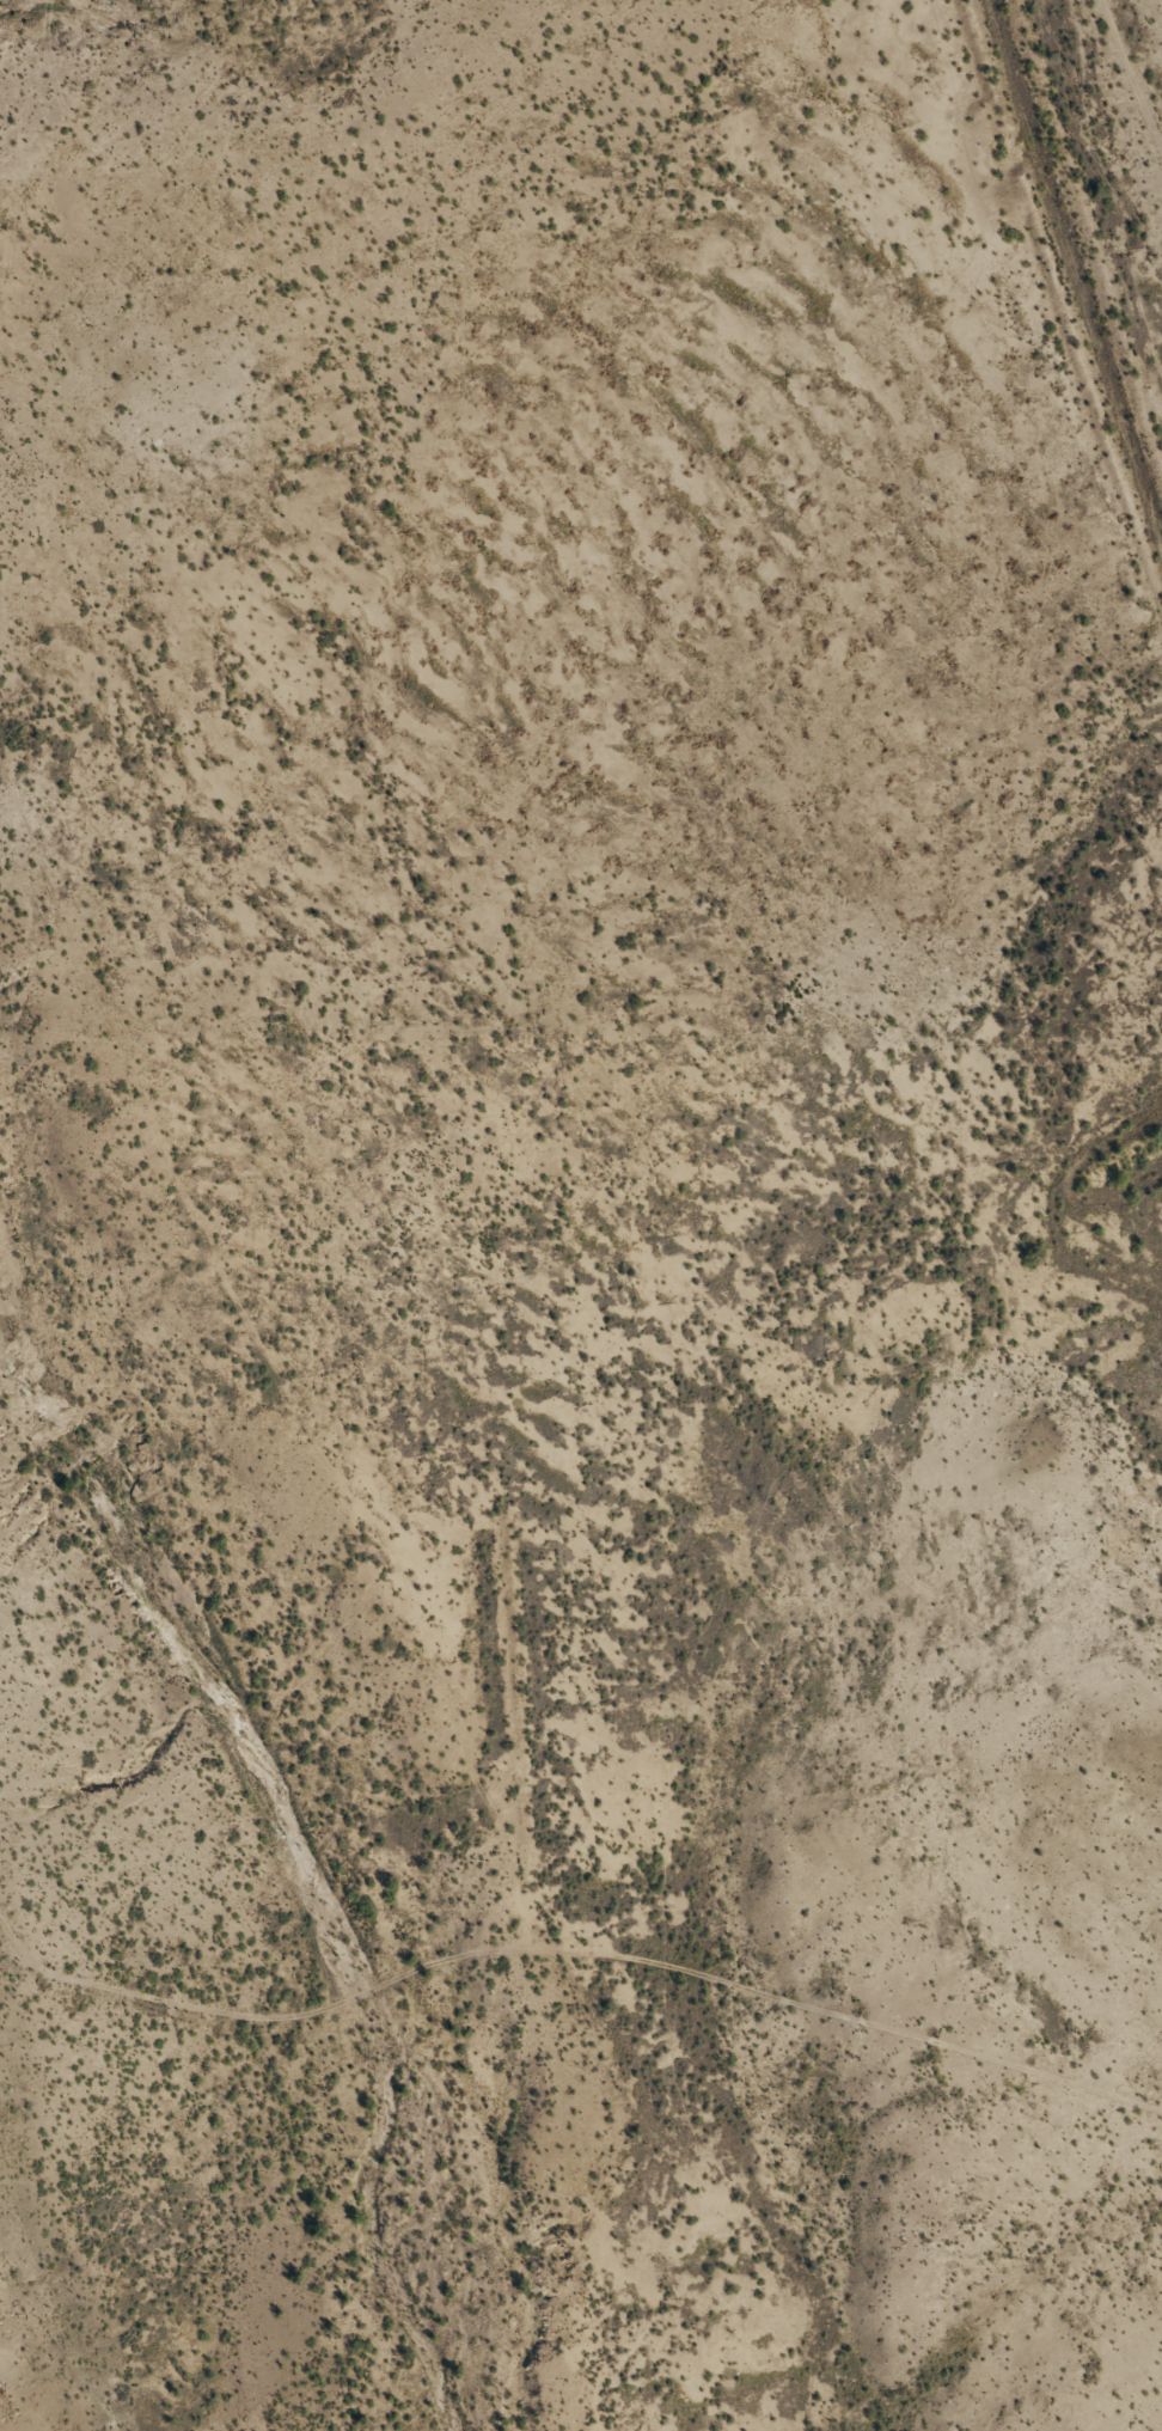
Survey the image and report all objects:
road: (1136, 63)

